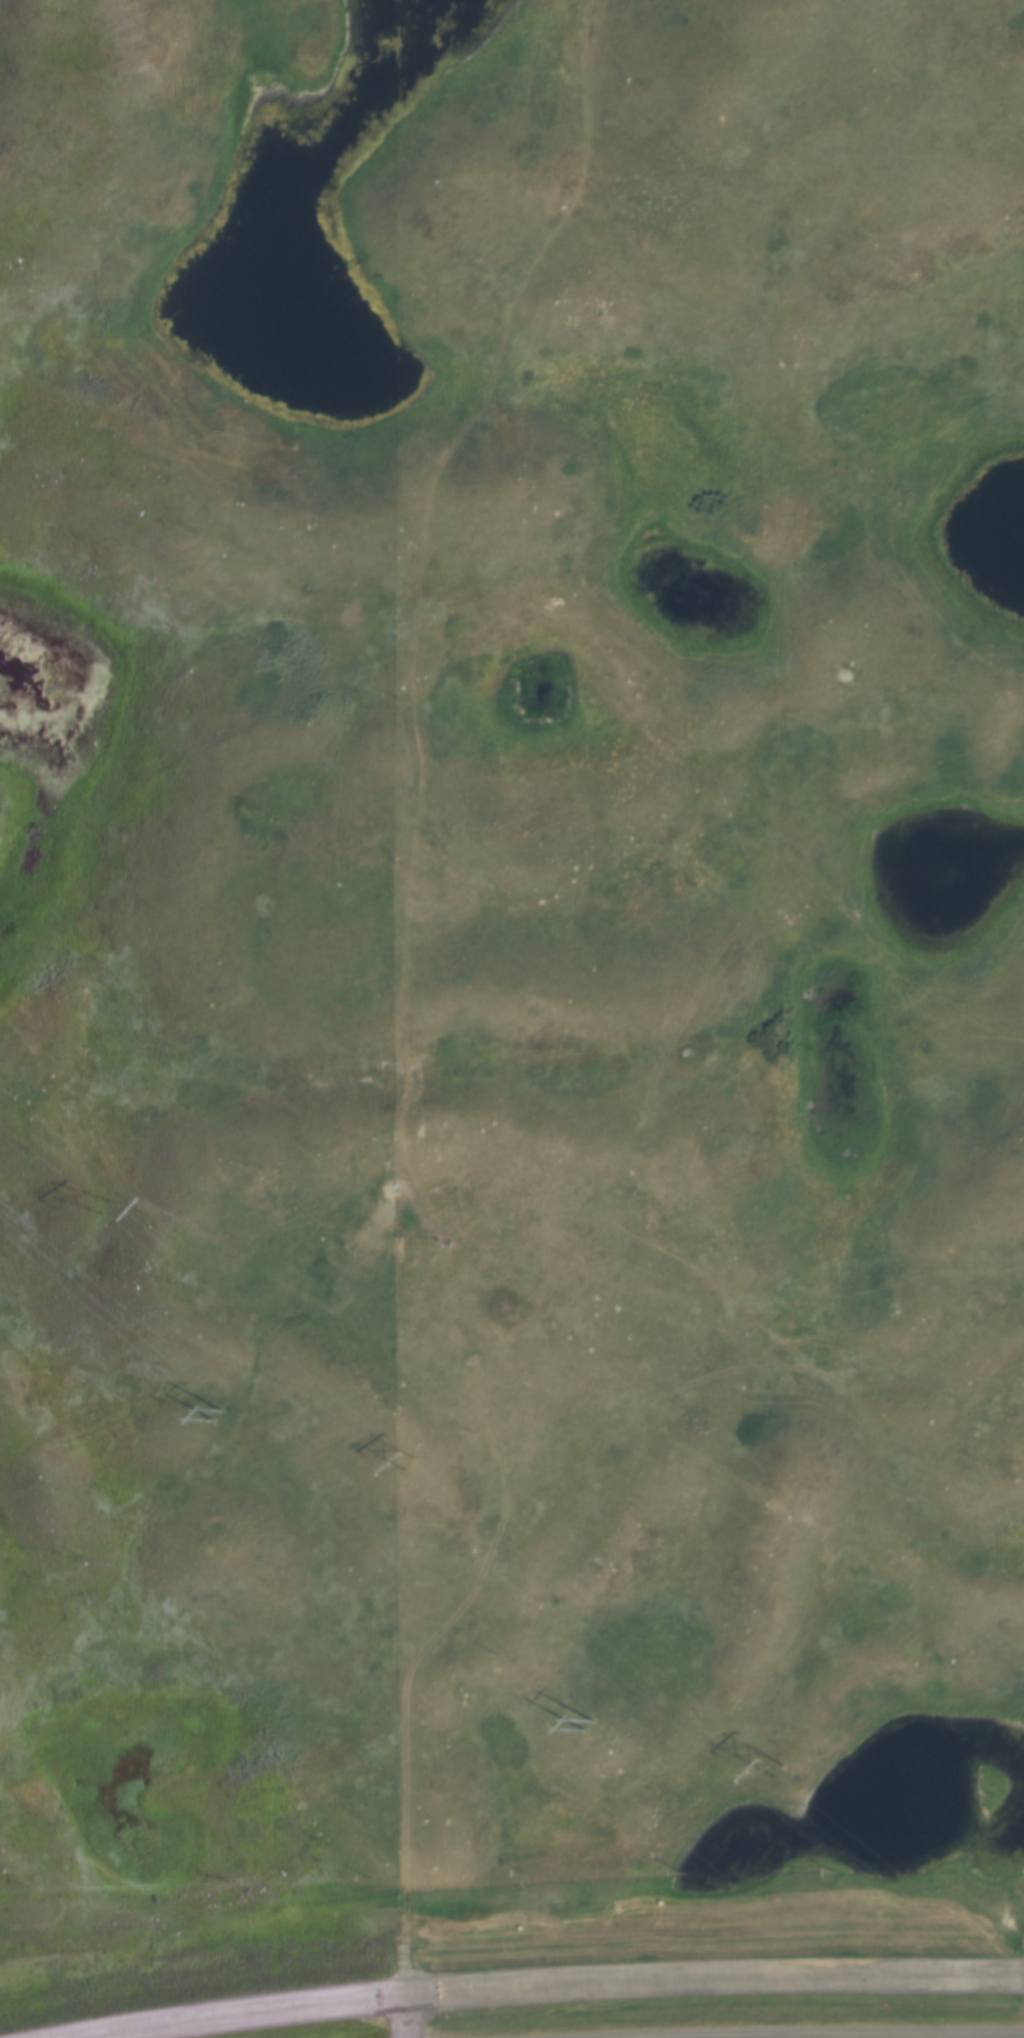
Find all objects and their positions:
power tower: (97, 1208)
power tower: (402, 1465)
power tower: (772, 1772)
road: (552, 1981)
road: (408, 2014)

